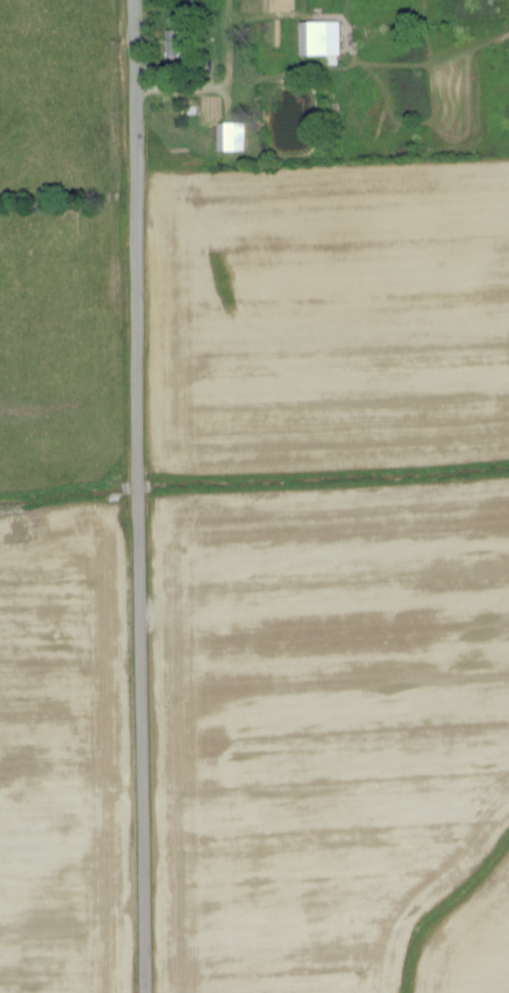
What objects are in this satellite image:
building: (320, 40)
building: (231, 137)
road: (137, 496)

